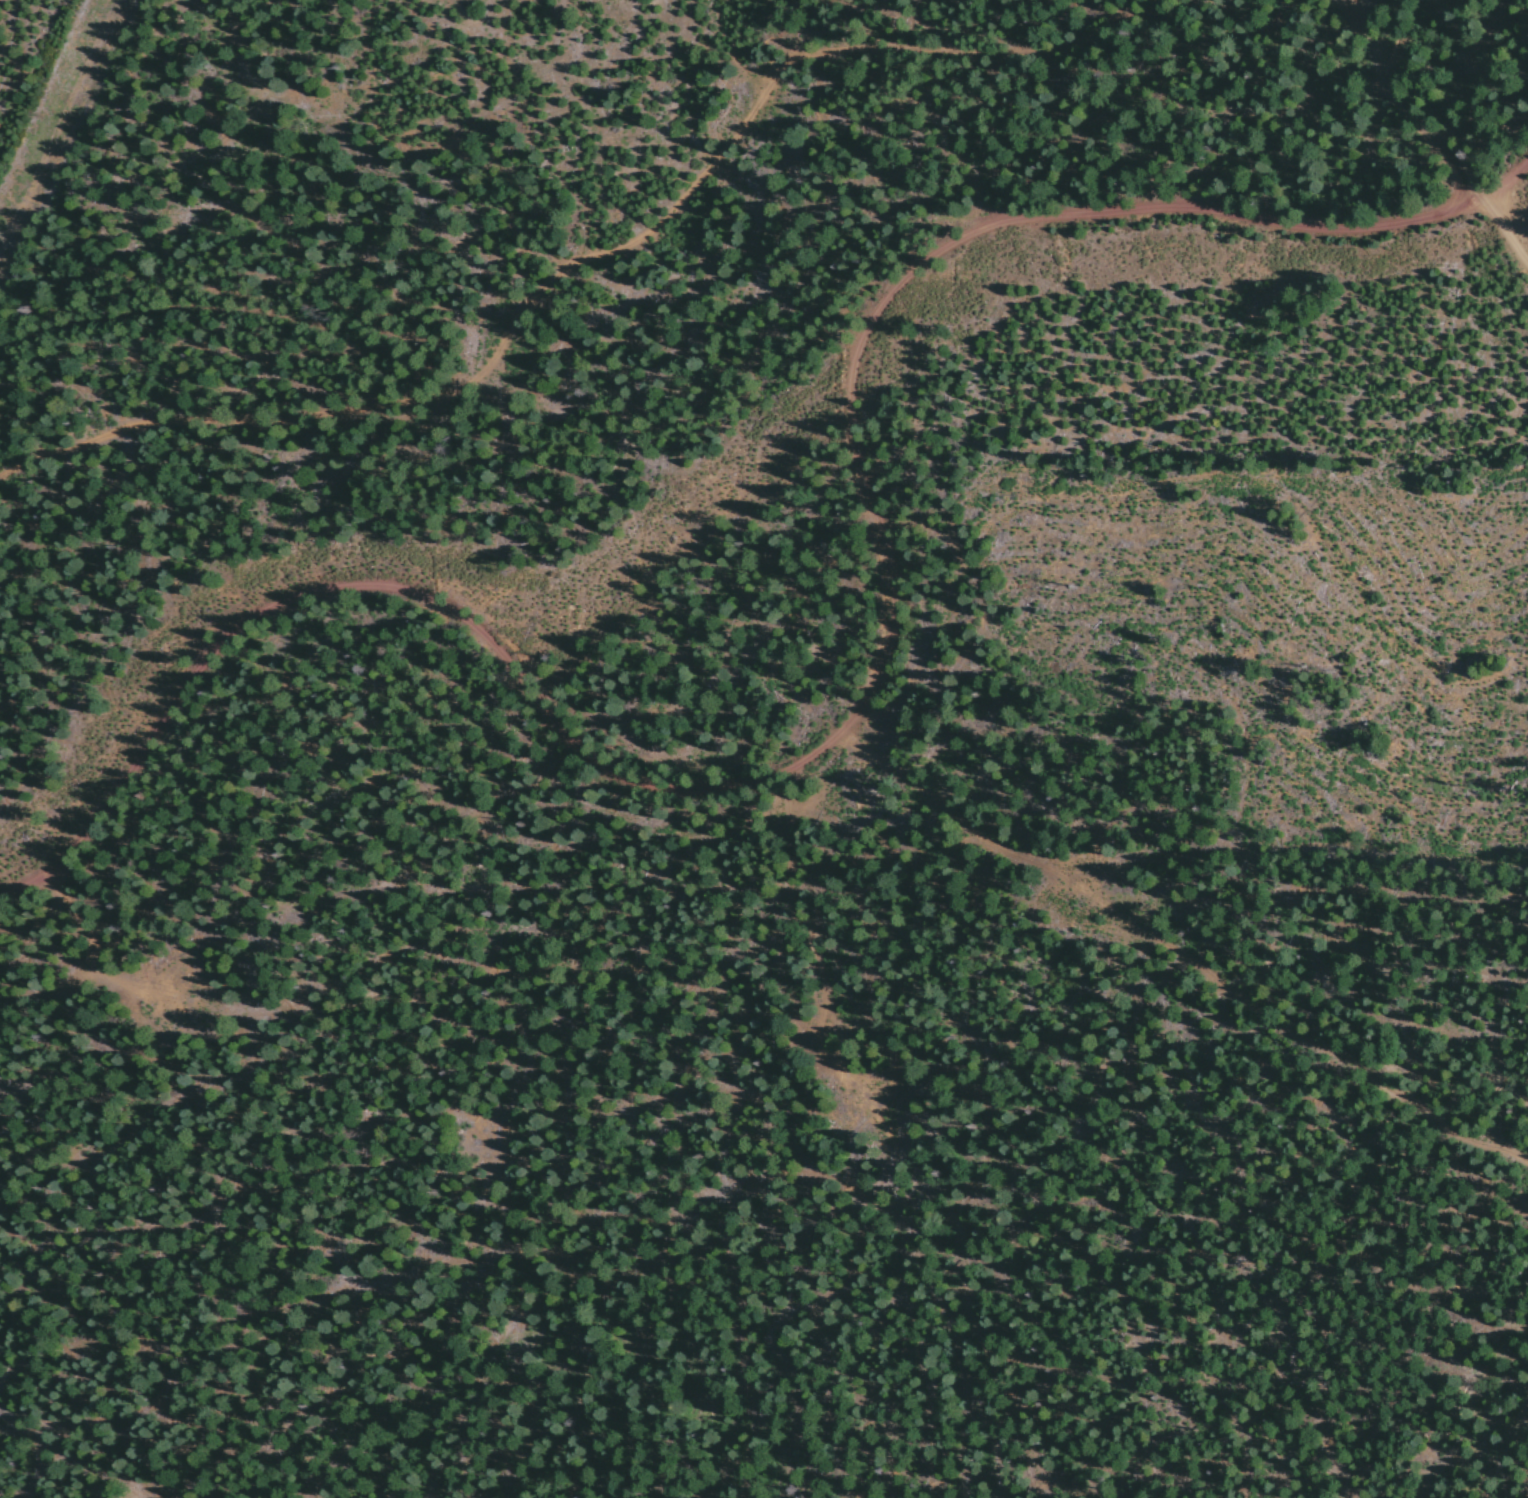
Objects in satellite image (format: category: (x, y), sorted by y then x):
road: (55, 119)
road: (1434, 142)
road: (620, 254)

